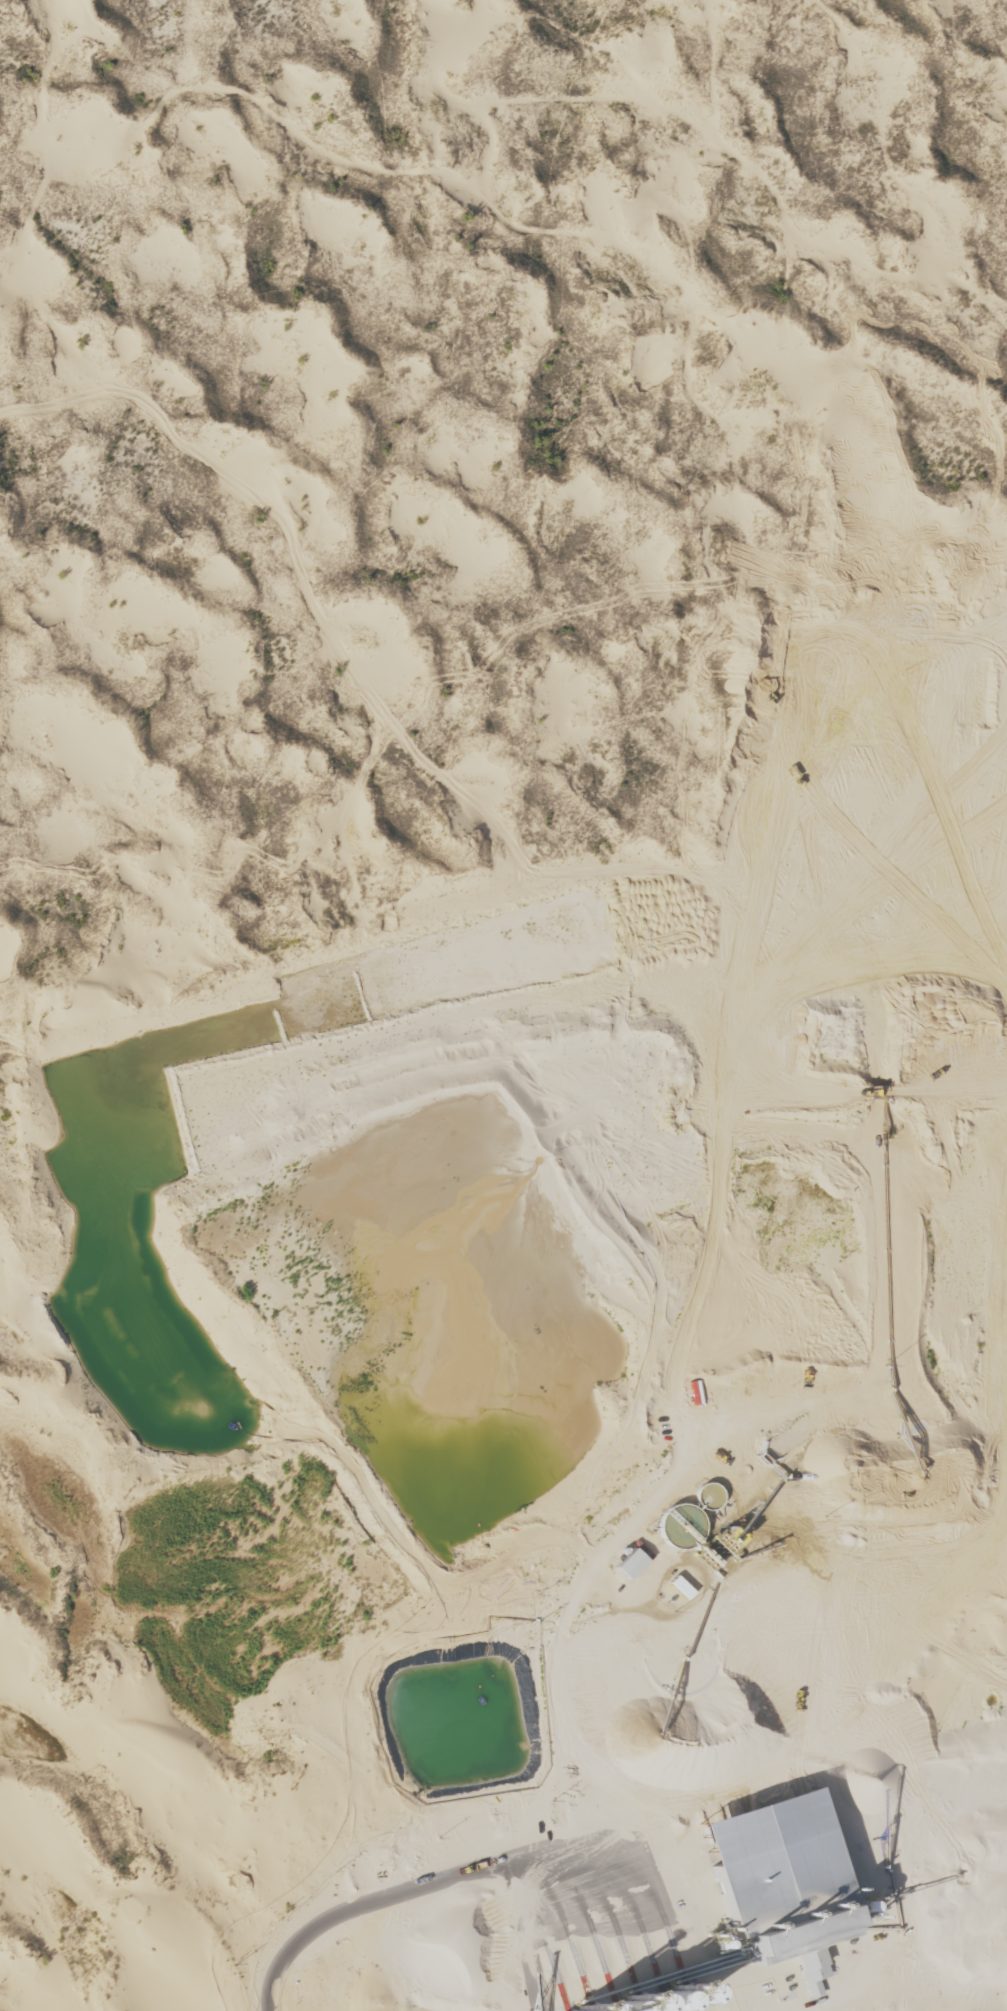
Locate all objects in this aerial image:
building: (630, 1564)
building: (813, 1970)

